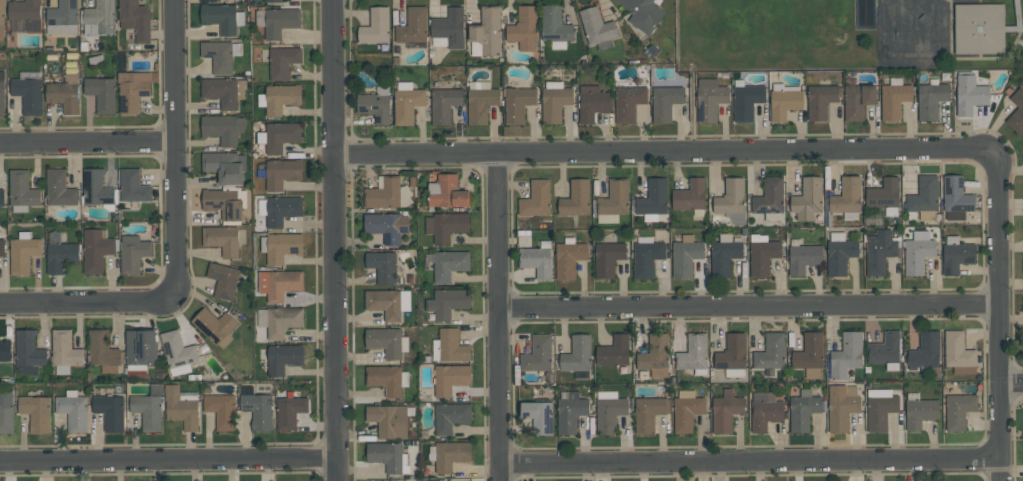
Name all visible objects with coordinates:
building: (272, 0)
building: (25, 13)
building: (642, 13)
building: (99, 17)
building: (221, 17)
building: (63, 18)
building: (2, 19)
building: (135, 19)
building: (276, 20)
building: (376, 26)
building: (413, 26)
building: (555, 27)
building: (523, 28)
building: (598, 28)
building: (979, 28)
building: (448, 29)
building: (486, 32)
building: (220, 54)
building: (283, 61)
building: (133, 89)
building: (28, 91)
building: (223, 91)
building: (2, 93)
building: (64, 93)
building: (102, 93)
building: (970, 93)
building: (279, 98)
building: (709, 98)
building: (894, 98)
building: (931, 99)
building: (555, 100)
building: (746, 100)
building: (784, 100)
building: (820, 100)
building: (857, 100)
building: (481, 101)
building: (407, 102)
building: (592, 102)
building: (628, 102)
building: (665, 102)
building: (518, 103)
building: (443, 104)
building: (375, 105)
building: (1016, 111)
building: (223, 128)
building: (278, 136)
road: (87, 141)
road: (174, 147)
road: (663, 152)
building: (224, 166)
building: (282, 172)
building: (133, 186)
building: (59, 188)
building: (98, 189)
building: (22, 191)
building: (447, 192)
building: (384, 193)
building: (884, 195)
building: (690, 196)
building: (1, 197)
building: (846, 197)
building: (575, 198)
building: (924, 198)
building: (956, 198)
building: (536, 199)
building: (652, 199)
building: (769, 199)
building: (807, 199)
building: (731, 200)
building: (613, 201)
building: (225, 202)
building: (279, 209)
building: (387, 226)
building: (446, 226)
building: (223, 239)
road: (333, 240)
building: (281, 246)
building: (1, 247)
building: (96, 249)
building: (879, 251)
building: (917, 252)
building: (133, 253)
building: (840, 253)
building: (23, 254)
building: (762, 254)
building: (685, 255)
building: (723, 255)
building: (956, 255)
building: (61, 256)
building: (569, 257)
building: (803, 257)
building: (608, 258)
building: (647, 258)
building: (537, 259)
building: (449, 264)
building: (382, 266)
building: (223, 280)
building: (278, 284)
road: (86, 302)
building: (447, 302)
building: (388, 303)
road: (351, 307)
road: (748, 307)
road: (998, 315)
road: (498, 317)
building: (279, 320)
building: (214, 326)
building: (387, 341)
building: (449, 346)
building: (28, 349)
building: (885, 350)
building: (5, 351)
building: (64, 351)
building: (140, 351)
building: (614, 351)
building: (924, 351)
building: (104, 352)
building: (177, 352)
building: (771, 352)
building: (958, 353)
building: (537, 354)
building: (577, 354)
building: (693, 354)
building: (810, 354)
building: (845, 355)
building: (655, 356)
building: (732, 356)
building: (281, 357)
building: (450, 378)
building: (387, 379)
road: (1010, 383)
building: (181, 406)
building: (841, 406)
building: (149, 407)
building: (257, 408)
building: (880, 408)
building: (6, 410)
building: (73, 410)
building: (221, 410)
building: (290, 410)
building: (686, 410)
building: (803, 410)
building: (958, 410)
building: (110, 411)
building: (570, 411)
building: (608, 411)
building: (725, 411)
building: (764, 411)
building: (35, 412)
building: (920, 412)
building: (648, 413)
building: (538, 415)
building: (450, 417)
building: (390, 420)
building: (448, 454)
building: (388, 457)
road: (168, 460)
road: (748, 461)

